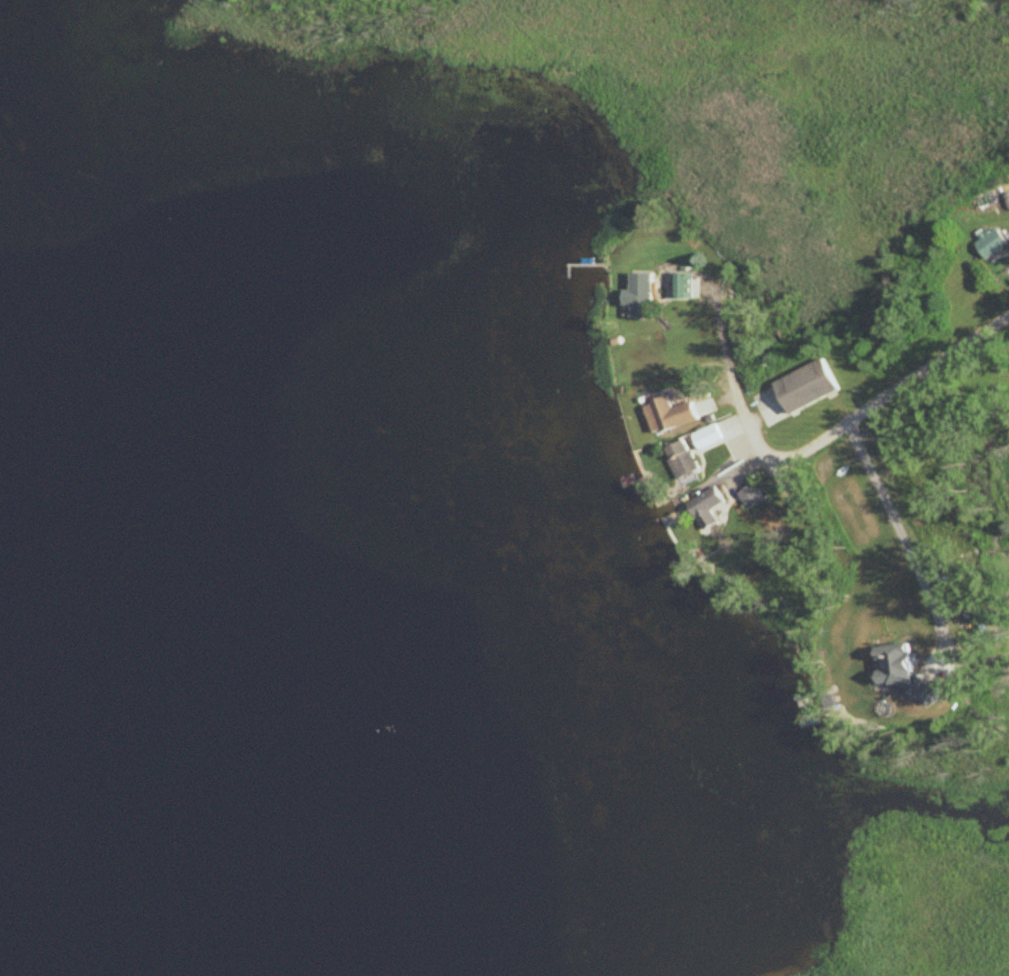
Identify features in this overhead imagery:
building: (991, 244)
building: (682, 287)
building: (639, 297)
road: (734, 376)
building: (805, 388)
building: (700, 391)
road: (897, 391)
building: (668, 416)
building: (707, 438)
building: (680, 459)
building: (748, 496)
building: (705, 506)
road: (902, 539)
building: (898, 668)

